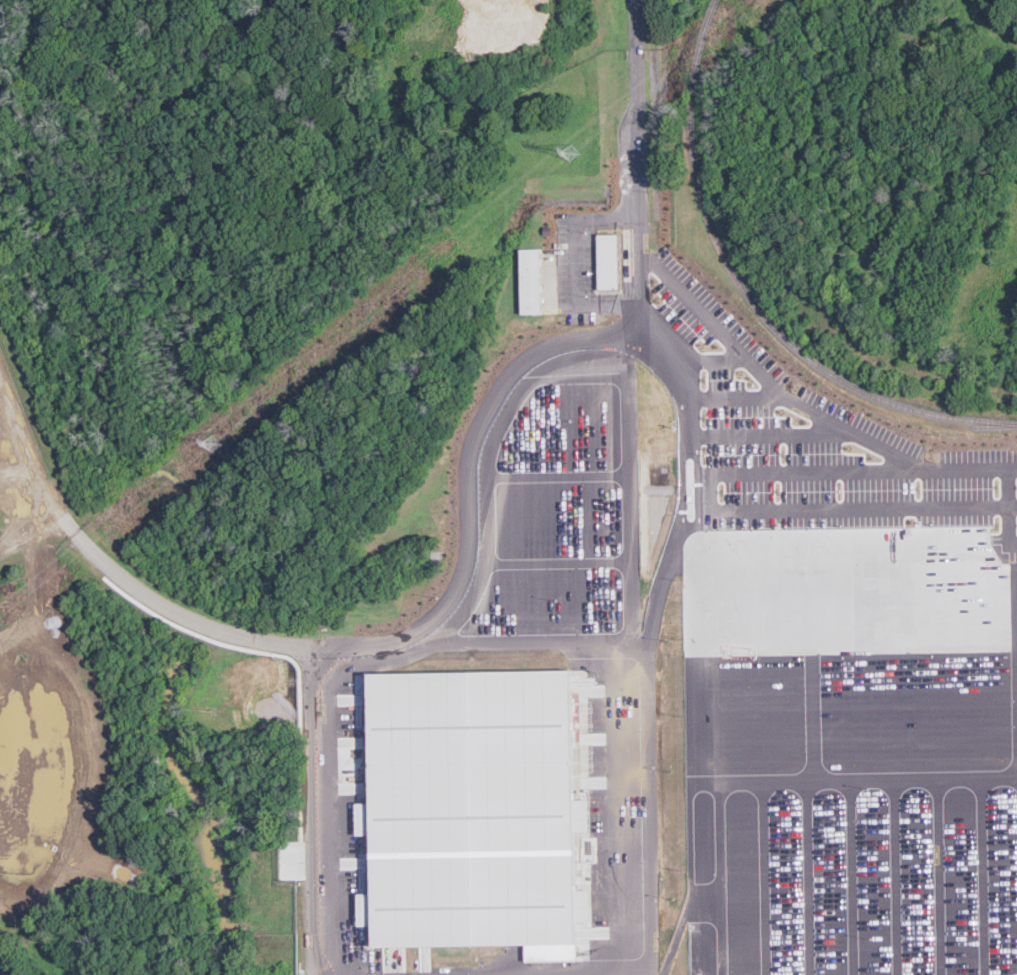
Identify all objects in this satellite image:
power tower: (571, 152)
building: (607, 261)
road: (577, 265)
building: (531, 281)
railway: (748, 293)
power tower: (217, 443)
road: (640, 487)
road: (275, 642)
railway: (983, 670)
road: (721, 695)
railway: (992, 789)
road: (333, 811)
building: (471, 811)
road: (628, 974)

